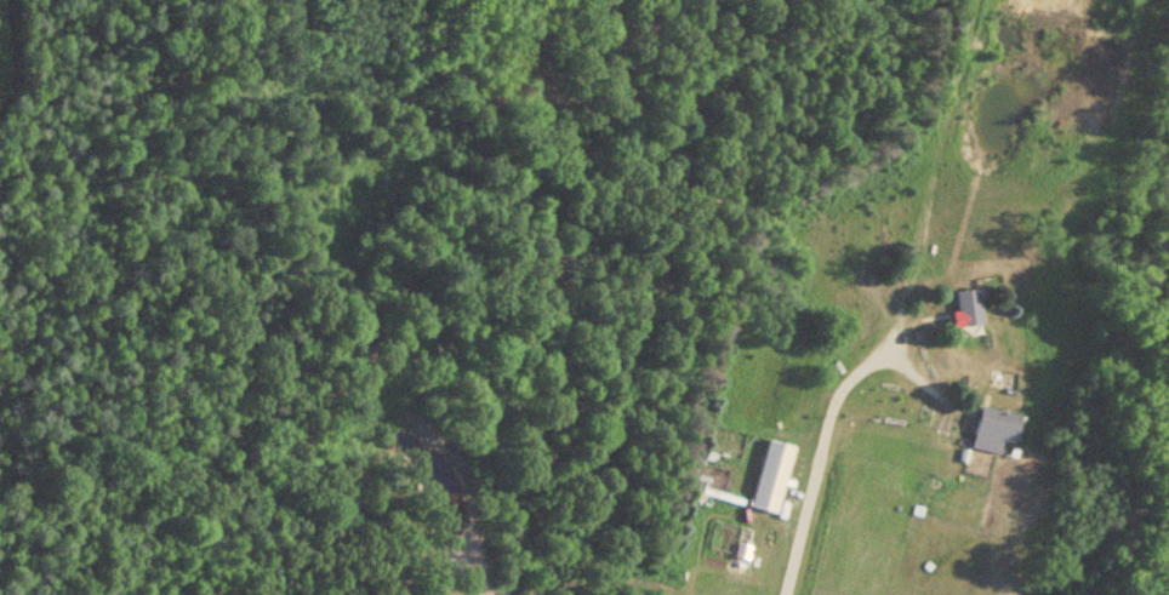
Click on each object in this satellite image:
building: (964, 307)
building: (991, 428)
road: (821, 458)
building: (768, 475)

